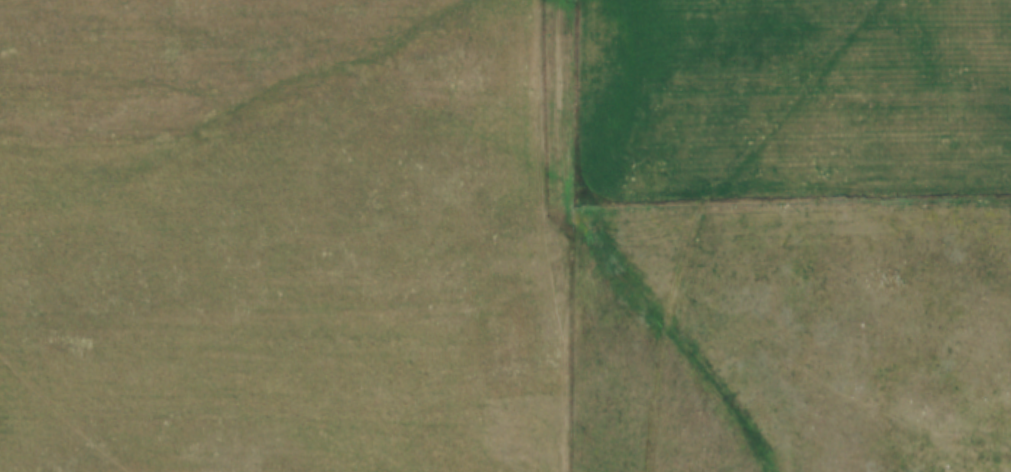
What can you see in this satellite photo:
road: (540, 236)

